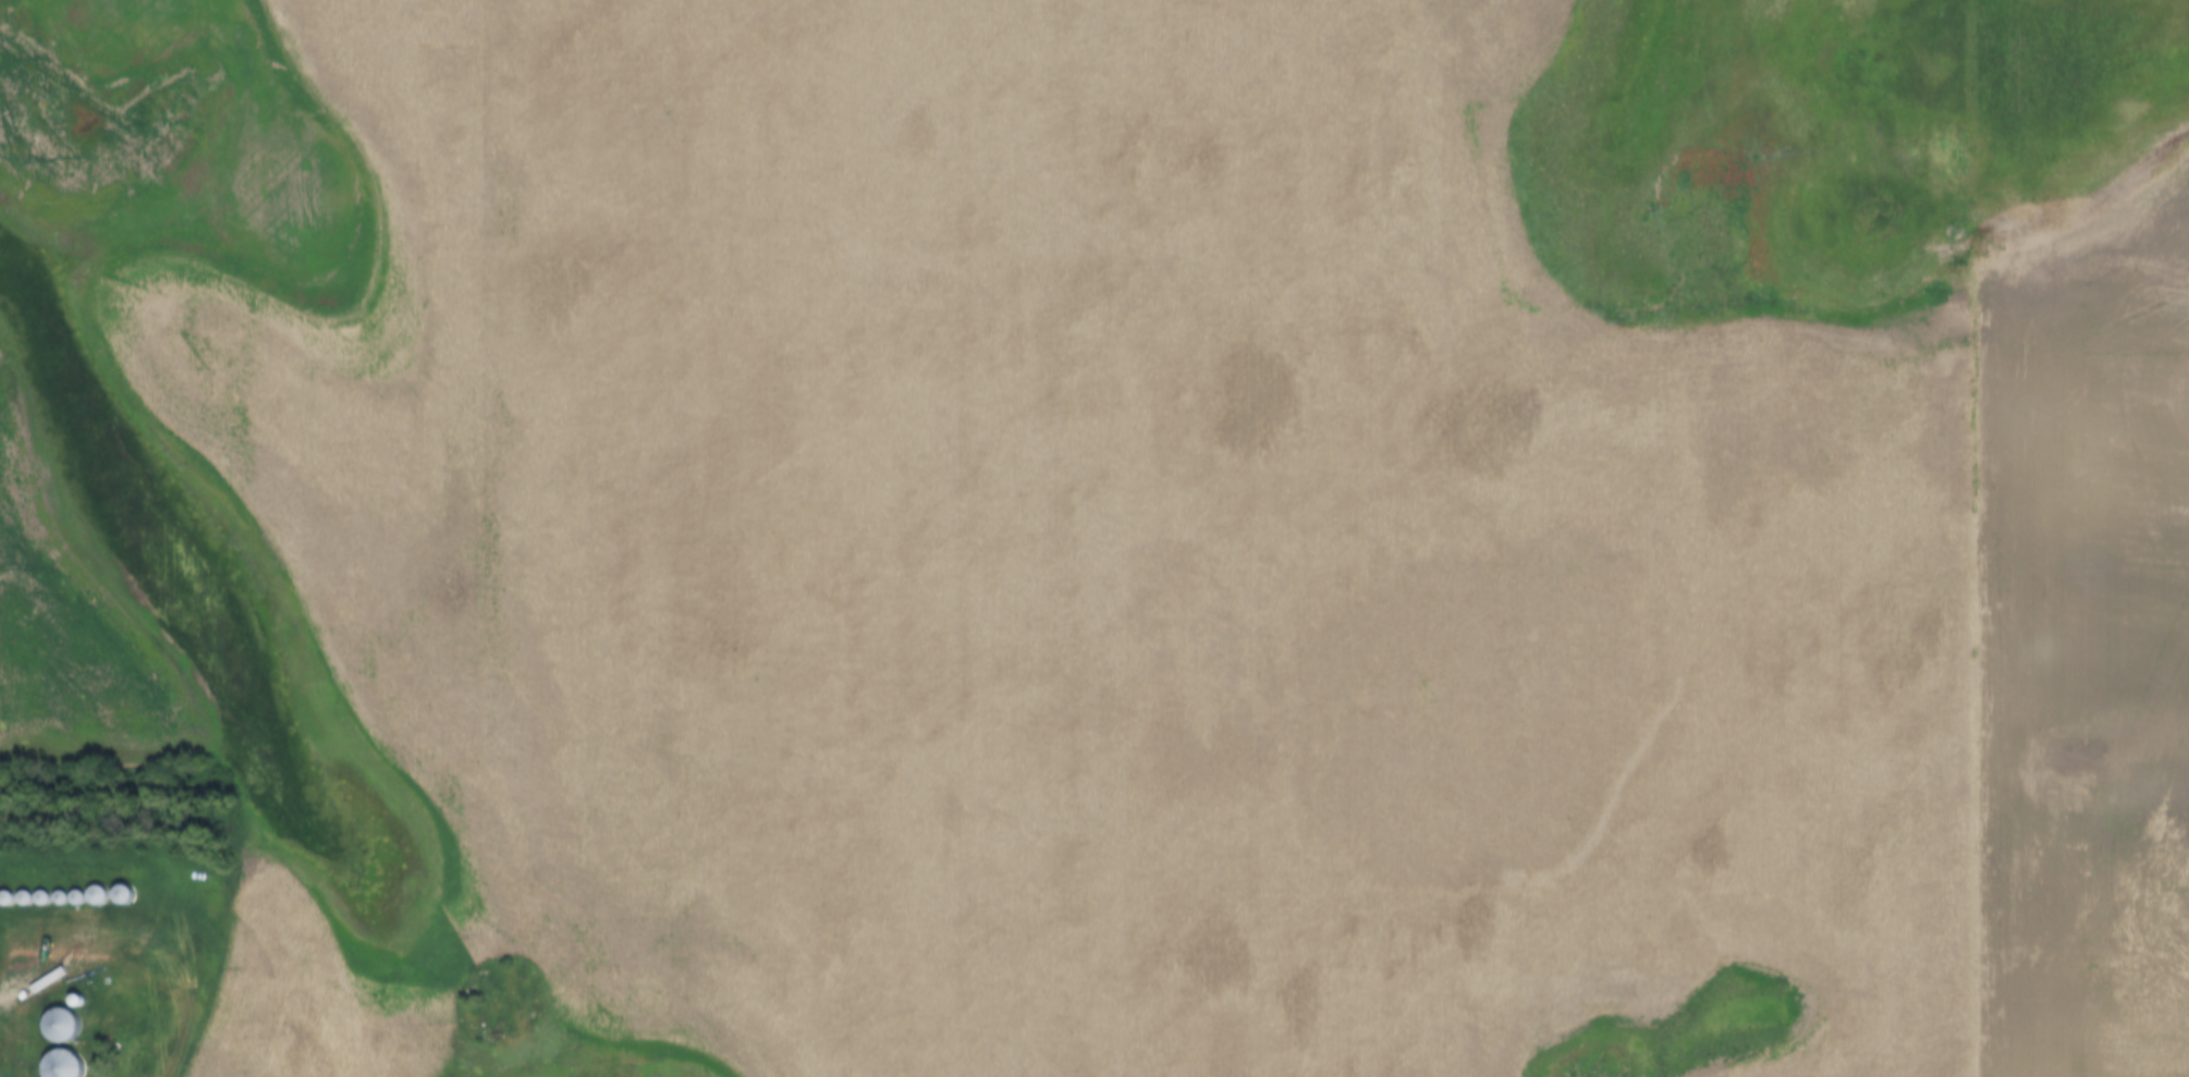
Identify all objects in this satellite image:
building: (8, 899)
road: (52, 971)
building: (65, 1027)
building: (66, 1064)

